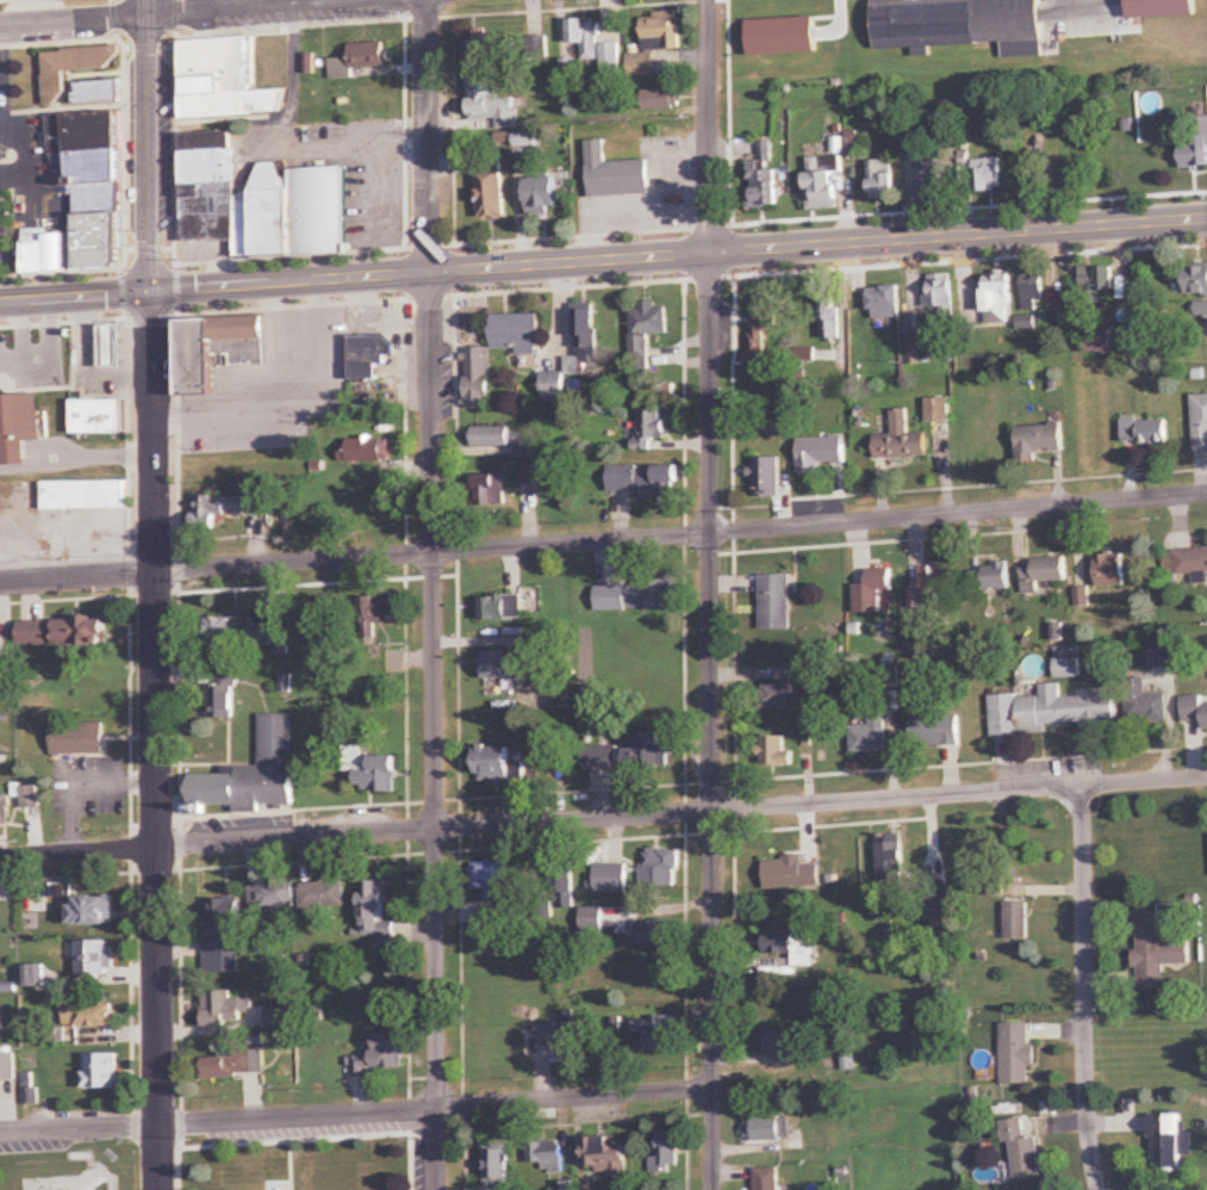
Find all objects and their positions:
road: (247, 7)
building: (1162, 10)
road: (73, 19)
building: (957, 23)
building: (661, 31)
building: (777, 35)
building: (585, 37)
building: (484, 50)
building: (537, 50)
building: (371, 56)
building: (611, 61)
building: (642, 66)
building: (75, 68)
building: (234, 78)
building: (99, 93)
building: (661, 99)
building: (491, 105)
road: (425, 136)
road: (148, 145)
building: (1195, 145)
building: (615, 174)
building: (987, 175)
building: (928, 176)
building: (763, 179)
building: (882, 180)
building: (822, 184)
building: (92, 185)
building: (212, 191)
building: (491, 193)
building: (543, 196)
building: (300, 211)
road: (815, 244)
building: (45, 252)
building: (1196, 280)
road: (287, 283)
building: (1097, 284)
traffic signals: (150, 292)
building: (1032, 293)
building: (940, 295)
road: (75, 297)
building: (997, 300)
building: (884, 303)
building: (830, 320)
building: (585, 330)
building: (646, 330)
building: (761, 330)
building: (515, 333)
building: (1110, 341)
road: (709, 343)
building: (112, 345)
building: (218, 351)
building: (369, 358)
building: (478, 379)
building: (938, 410)
building: (97, 416)
building: (1200, 424)
building: (18, 426)
building: (649, 428)
building: (1144, 433)
building: (491, 438)
building: (901, 440)
building: (1038, 442)
building: (367, 451)
building: (523, 451)
building: (821, 455)
building: (531, 475)
building: (643, 479)
building: (767, 479)
building: (490, 491)
building: (85, 497)
building: (218, 510)
building: (375, 510)
building: (341, 520)
road: (682, 533)
building: (1110, 571)
road: (77, 575)
building: (1044, 575)
building: (990, 578)
building: (932, 587)
building: (872, 591)
building: (637, 595)
building: (774, 603)
building: (502, 609)
building: (377, 613)
building: (248, 633)
building: (63, 634)
building: (1164, 655)
building: (1068, 663)
building: (512, 665)
building: (786, 690)
building: (222, 692)
building: (1145, 705)
building: (1194, 711)
building: (1052, 712)
road: (435, 731)
building: (935, 731)
building: (871, 735)
building: (77, 739)
road: (156, 740)
building: (647, 752)
building: (776, 754)
building: (601, 757)
building: (494, 763)
building: (371, 770)
building: (254, 774)
building: (5, 810)
road: (682, 814)
road: (77, 851)
building: (890, 855)
building: (794, 857)
building: (659, 866)
building: (610, 876)
building: (493, 882)
building: (559, 885)
building: (272, 897)
building: (323, 897)
building: (937, 899)
building: (375, 910)
building: (89, 911)
building: (1016, 921)
building: (655, 934)
building: (222, 936)
road: (713, 940)
building: (492, 941)
building: (792, 947)
building: (1157, 952)
building: (95, 957)
building: (33, 975)
road: (1084, 987)
building: (802, 991)
building: (223, 1008)
building: (89, 1015)
building: (280, 1017)
building: (655, 1033)
building: (558, 1035)
building: (492, 1039)
building: (783, 1043)
building: (1018, 1054)
building: (381, 1056)
building: (235, 1066)
building: (7, 1071)
building: (101, 1072)
building: (30, 1090)
road: (434, 1105)
building: (770, 1130)
road: (77, 1132)
building: (1166, 1142)
building: (1022, 1149)
building: (666, 1154)
building: (547, 1157)
building: (606, 1158)
building: (496, 1167)
building: (767, 1179)

